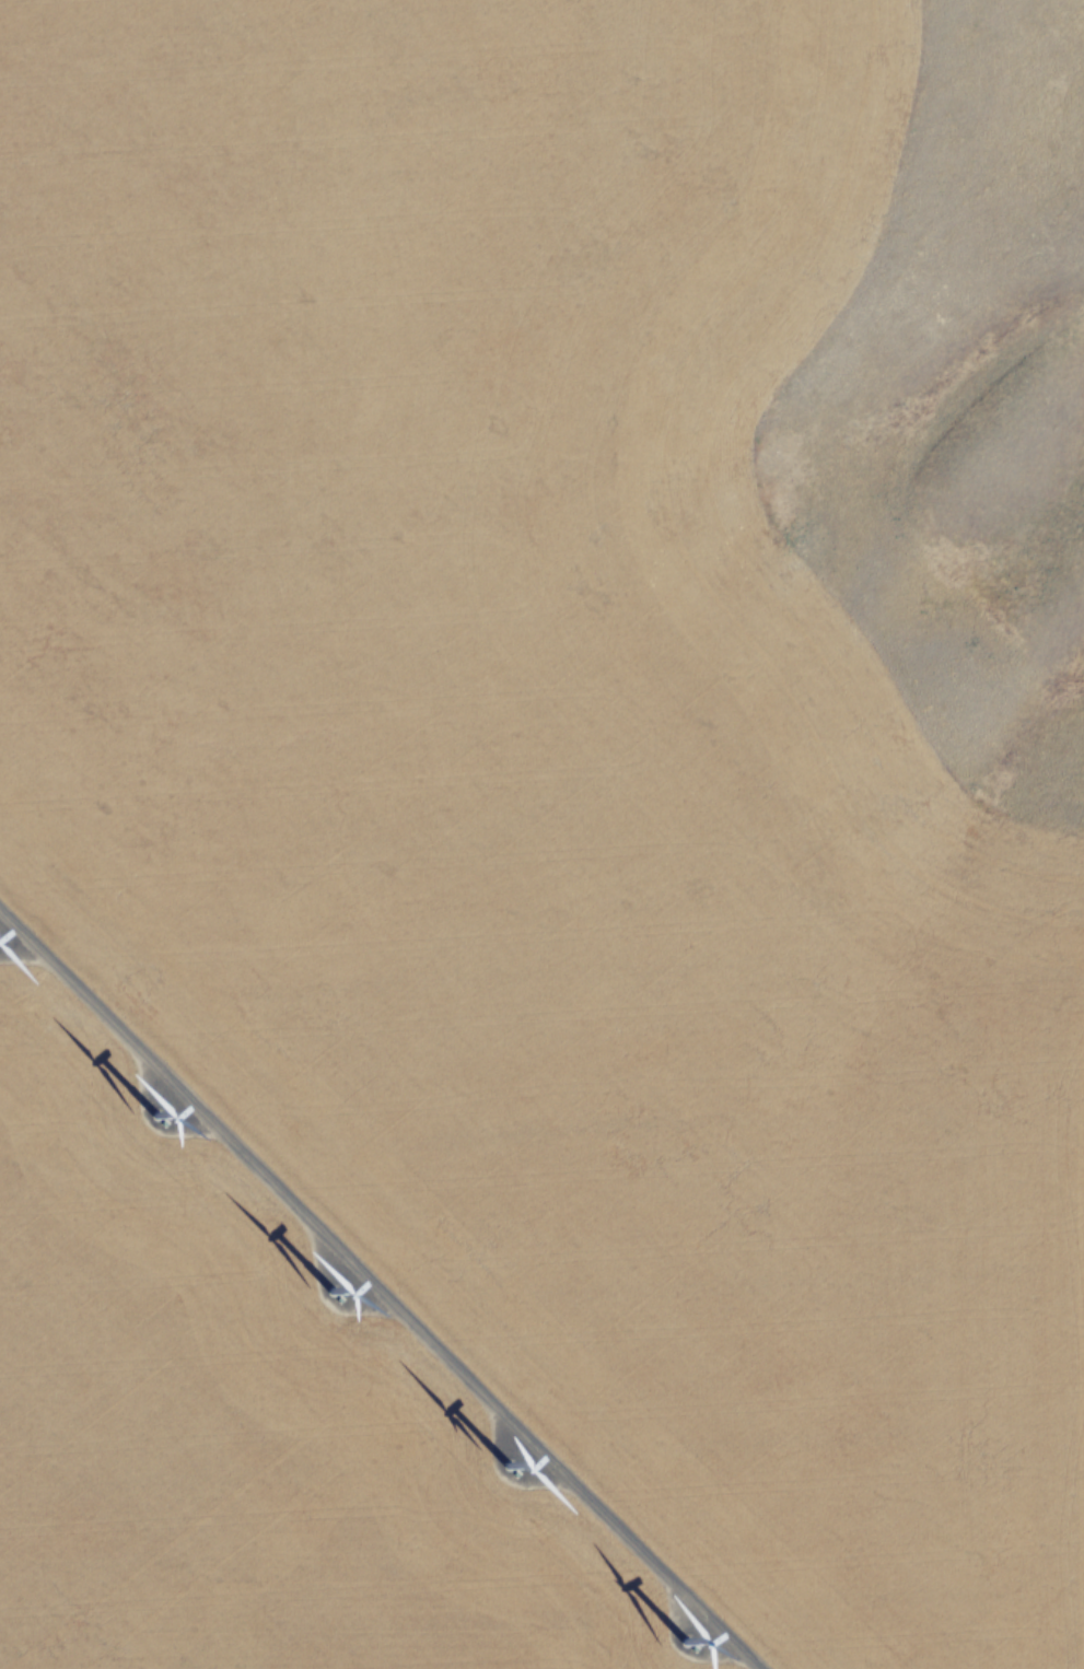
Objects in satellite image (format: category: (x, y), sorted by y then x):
wind turbine: (154, 1123)
road: (380, 1286)
wind turbine: (331, 1291)
wind turbine: (515, 1461)
wind turbine: (692, 1635)

